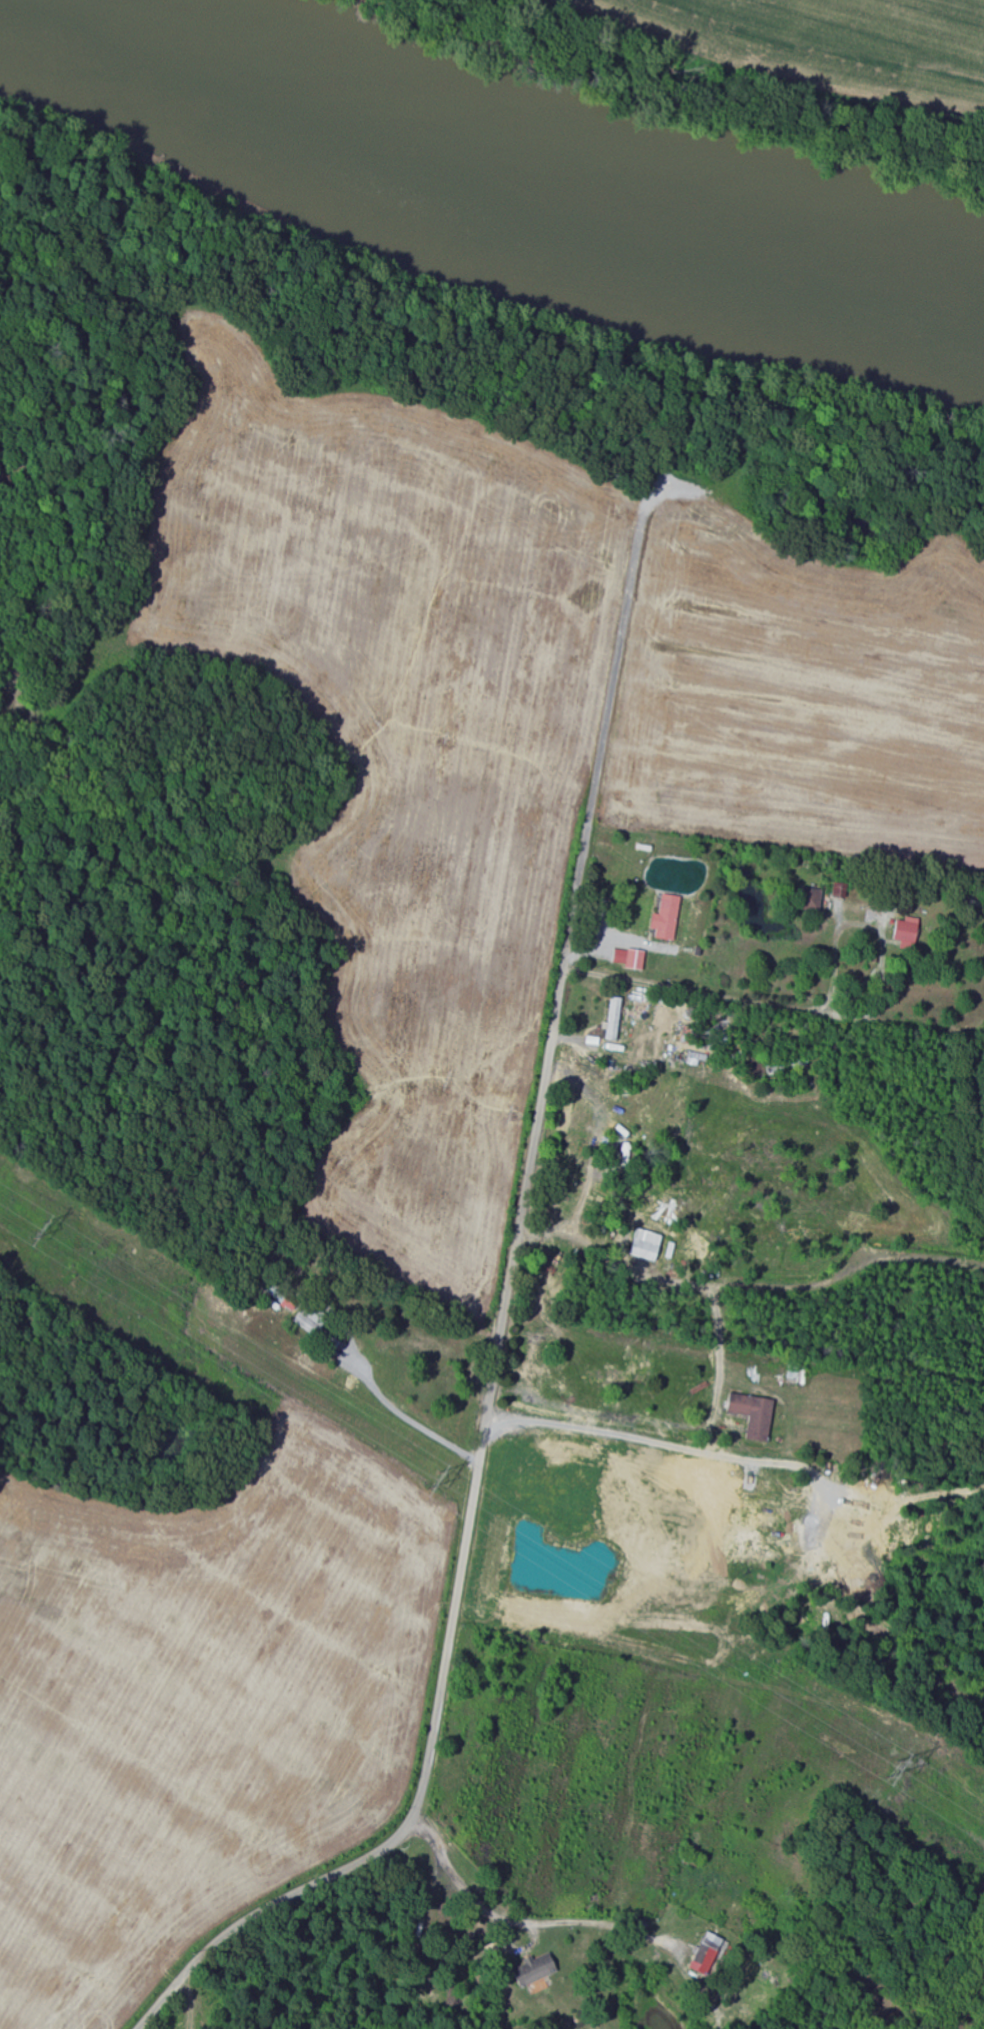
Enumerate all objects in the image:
river: (523, 180)
building: (843, 890)
building: (812, 899)
building: (669, 918)
building: (910, 933)
building: (632, 958)
building: (616, 1020)
road: (760, 1134)
power tower: (37, 1231)
building: (649, 1245)
road: (501, 1328)
building: (757, 1415)
road: (413, 1423)
power tower: (431, 1478)
power tower: (890, 1770)
building: (710, 1954)
building: (538, 1969)
road: (426, 2022)

